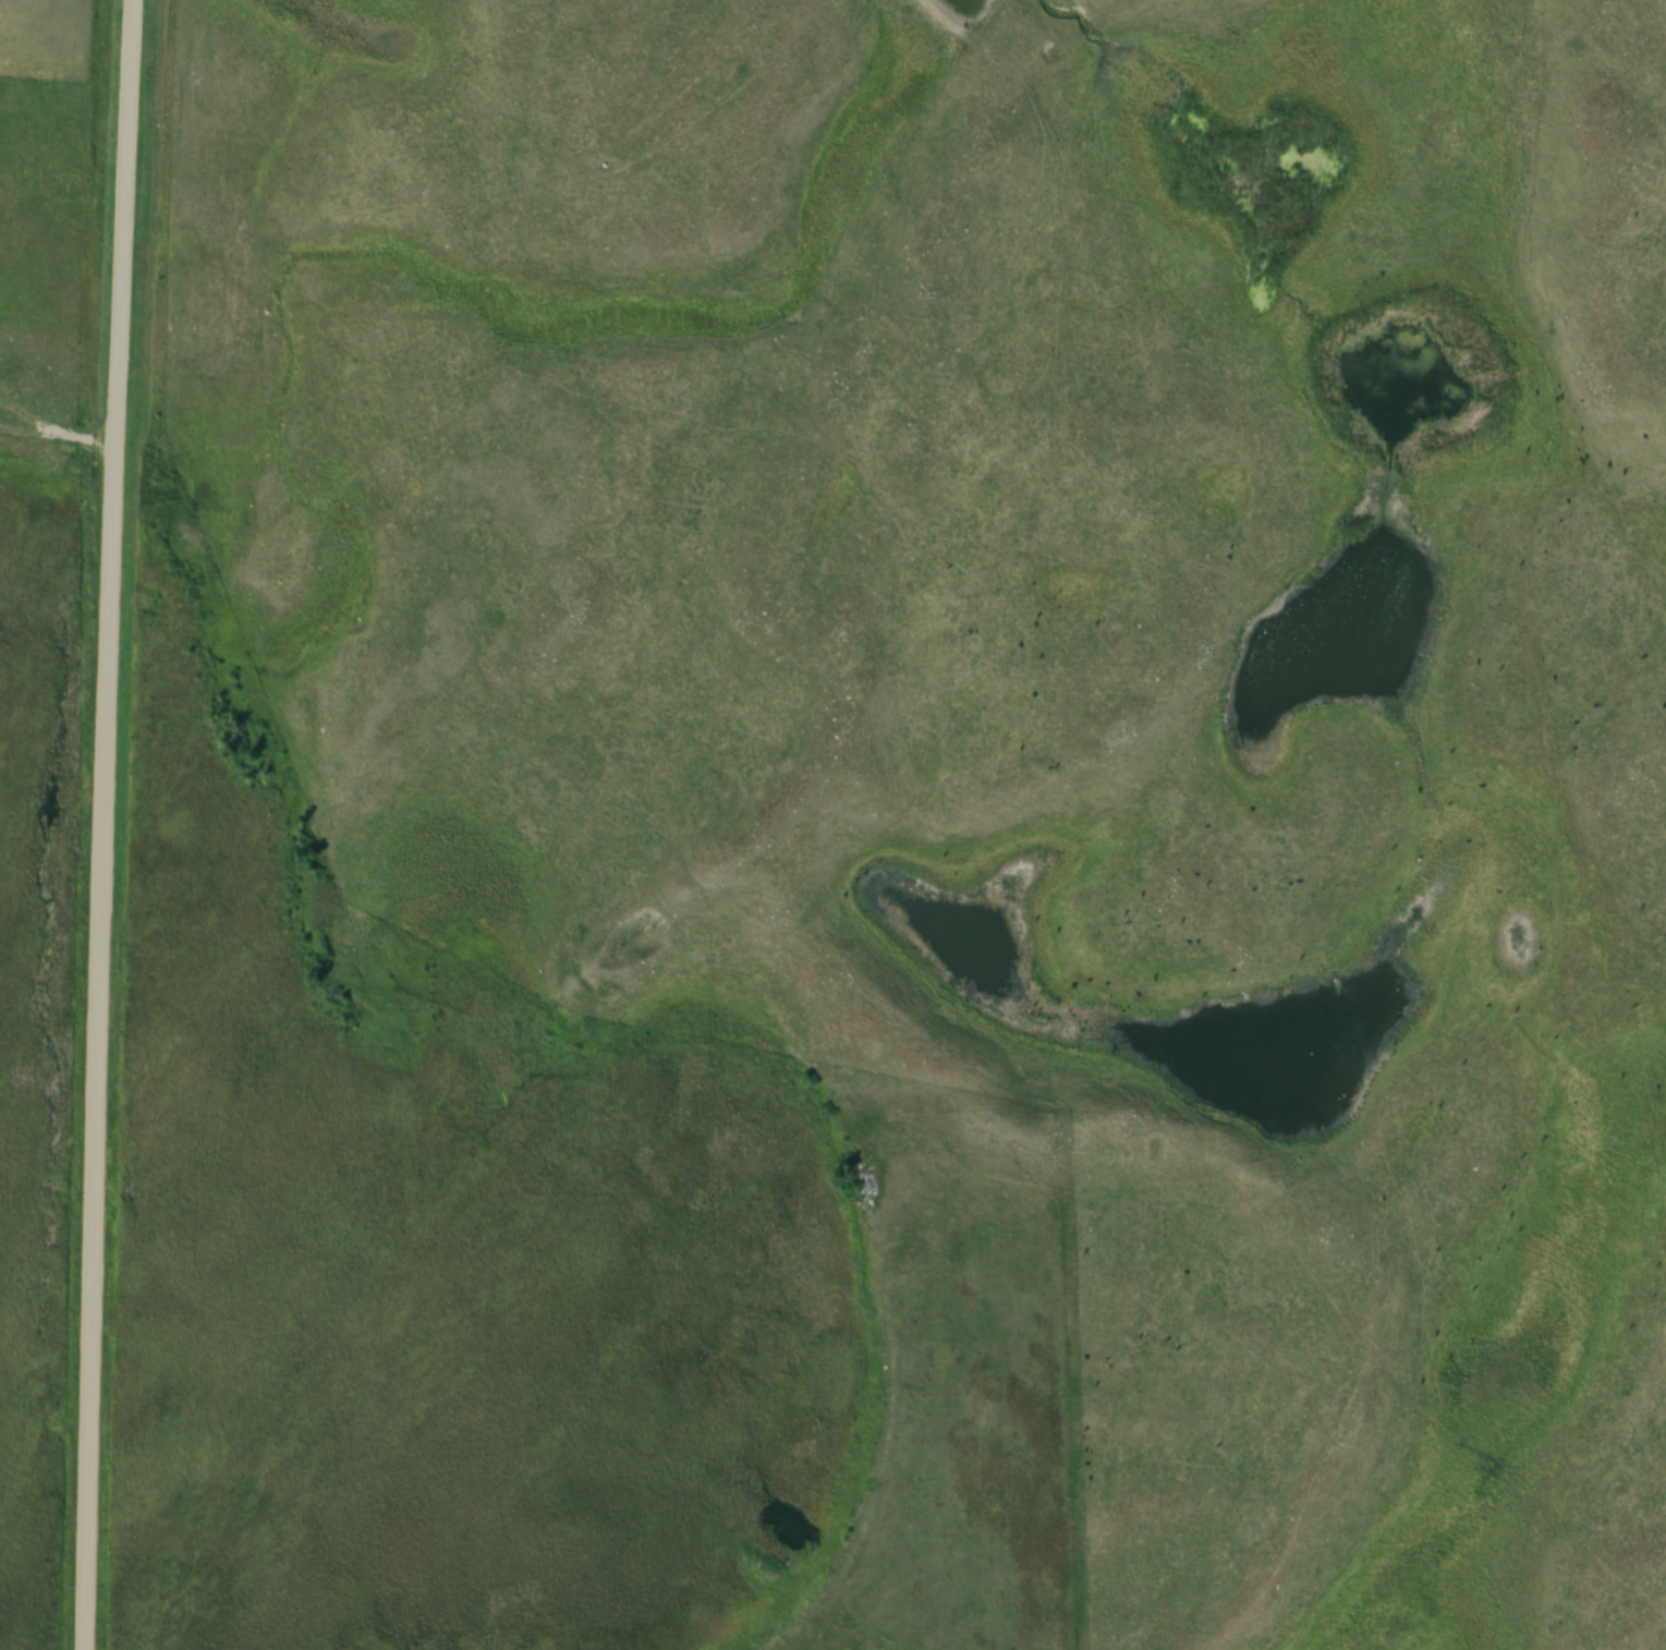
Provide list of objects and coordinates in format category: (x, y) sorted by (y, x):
road: (105, 824)

